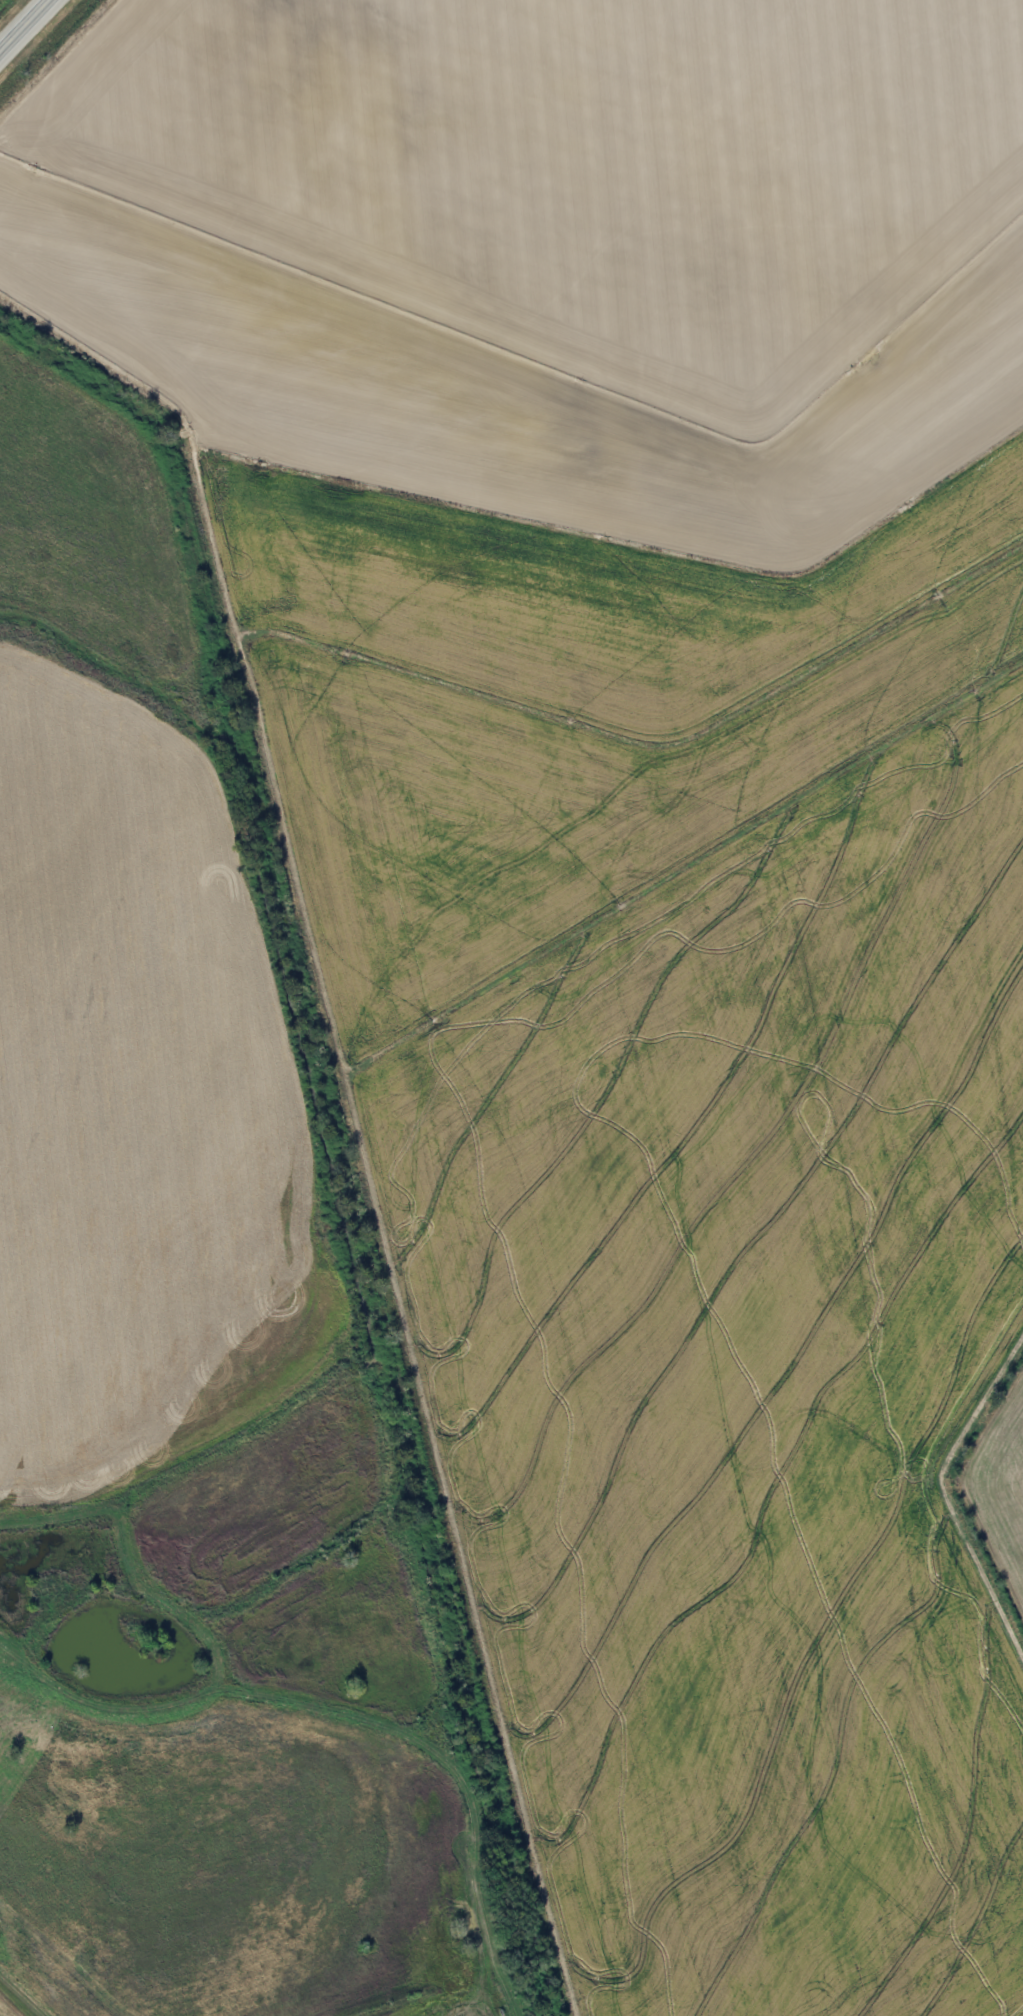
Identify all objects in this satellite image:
road: (29, 30)

